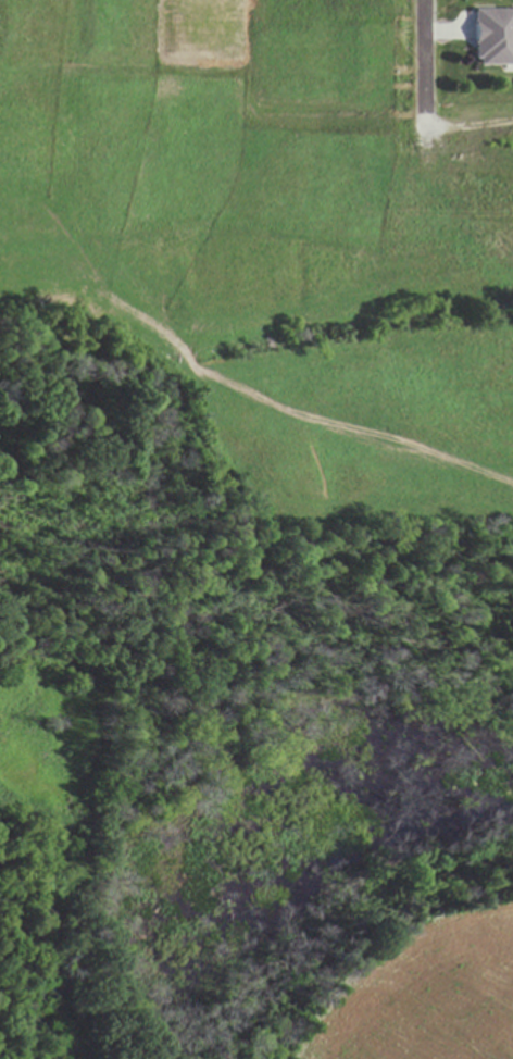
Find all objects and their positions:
building: (492, 39)
road: (424, 63)
road: (468, 126)

